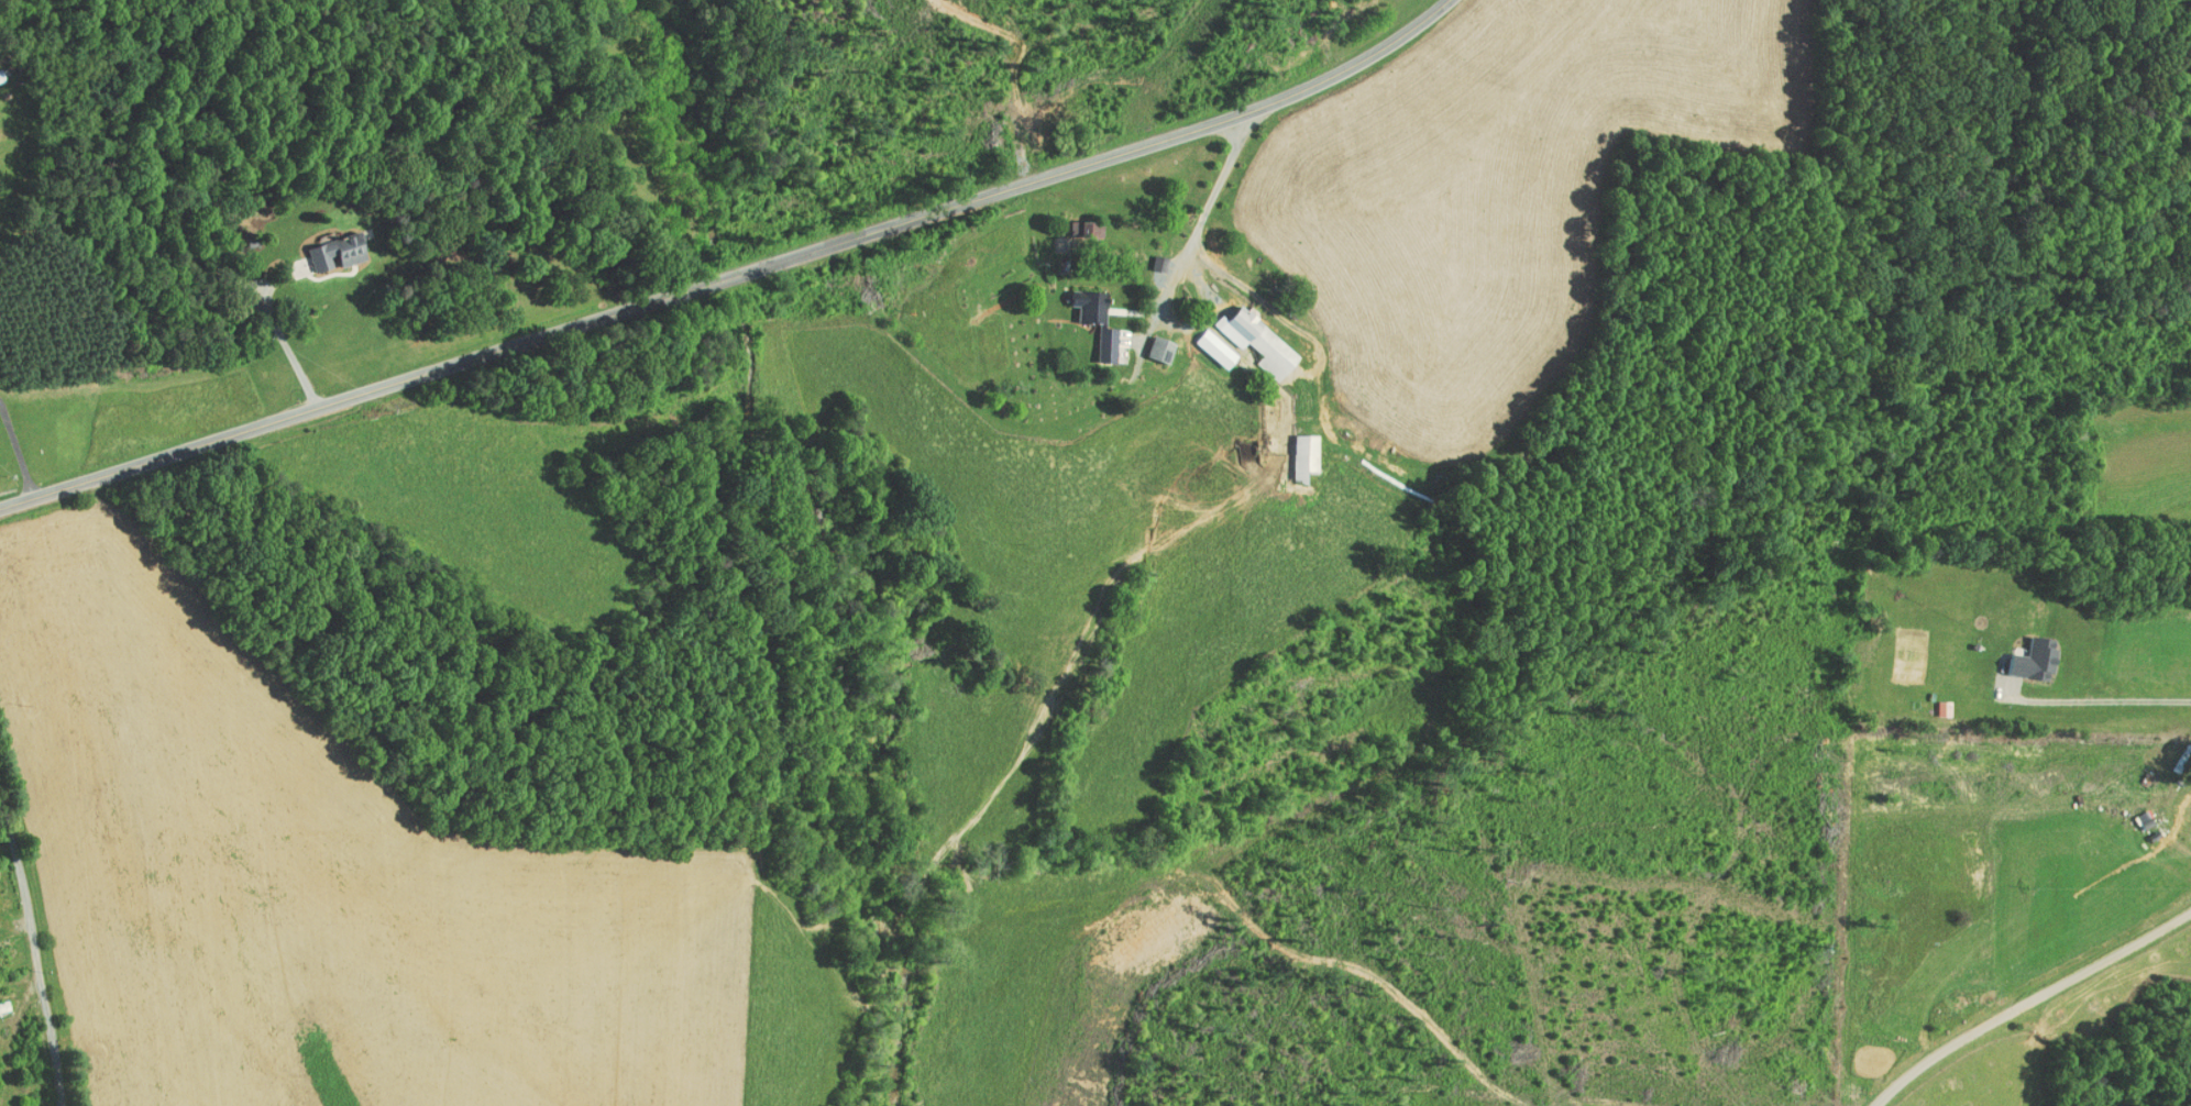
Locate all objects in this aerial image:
road: (1210, 204)
building: (1076, 222)
building: (328, 244)
road: (729, 272)
building: (1080, 298)
road: (266, 328)
building: (1197, 334)
building: (1248, 334)
building: (1101, 335)
building: (1150, 342)
building: (1295, 450)
building: (2024, 653)
road: (2094, 693)
building: (1935, 703)
road: (35, 948)
road: (2029, 995)

